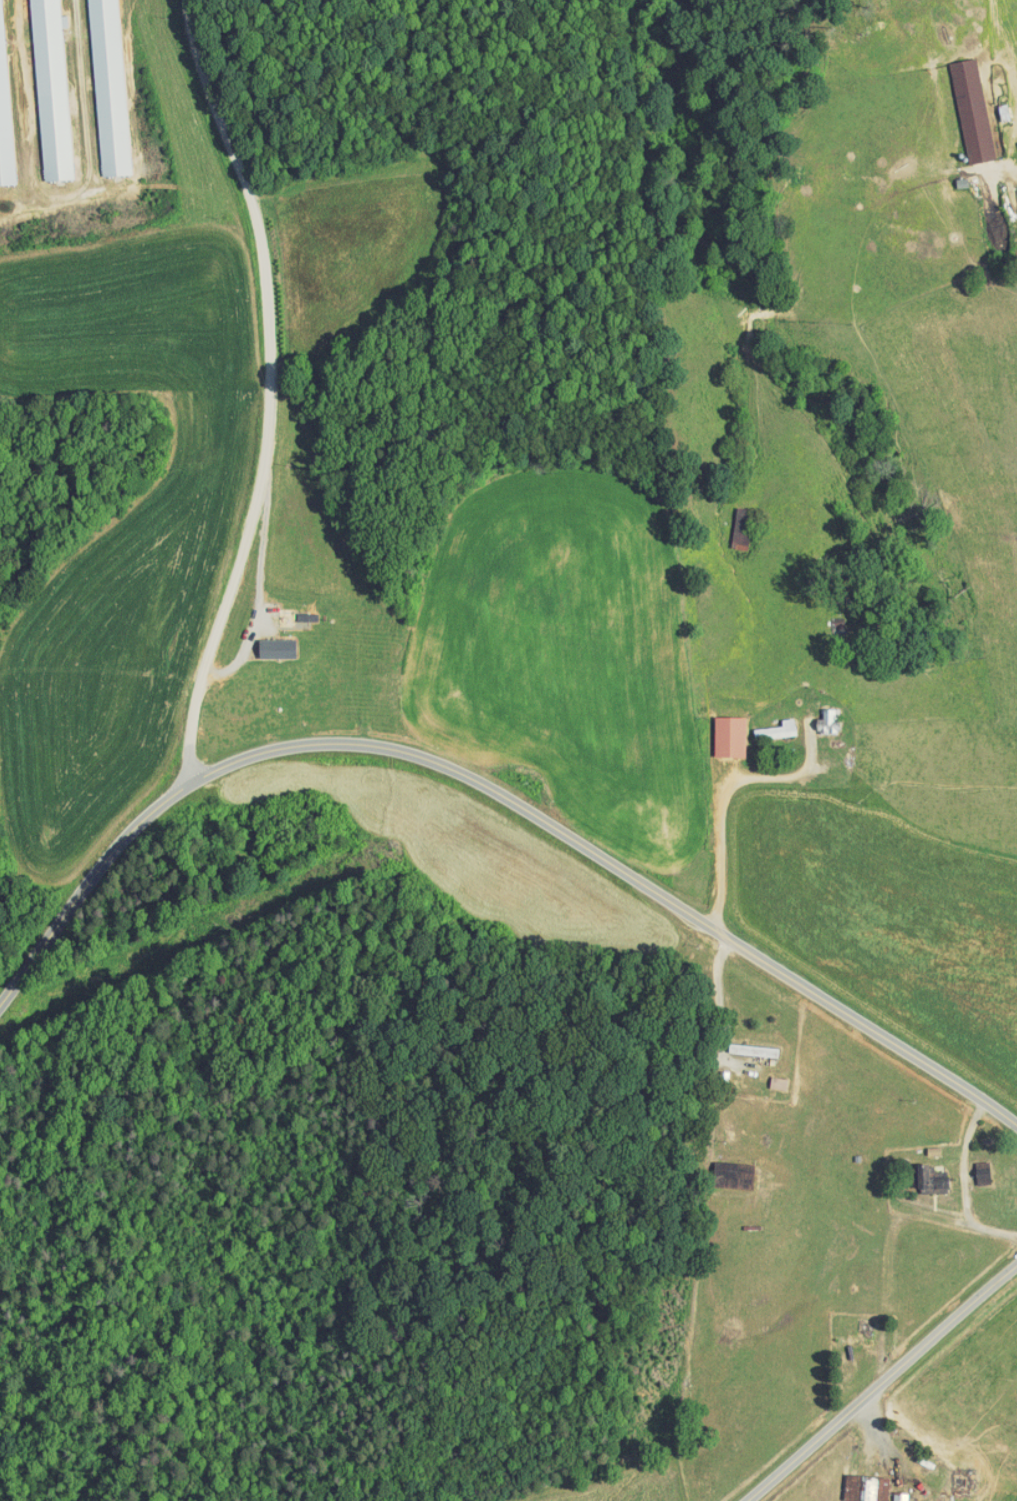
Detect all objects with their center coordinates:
building: (96, 84)
building: (38, 86)
building: (960, 104)
road: (988, 163)
building: (0, 169)
road: (266, 388)
building: (263, 642)
building: (814, 714)
building: (763, 723)
building: (717, 729)
road: (713, 785)
road: (488, 790)
building: (741, 1044)
building: (970, 1166)
building: (918, 1173)
road: (952, 1181)
road: (876, 1370)
building: (948, 1474)
building: (862, 1483)

